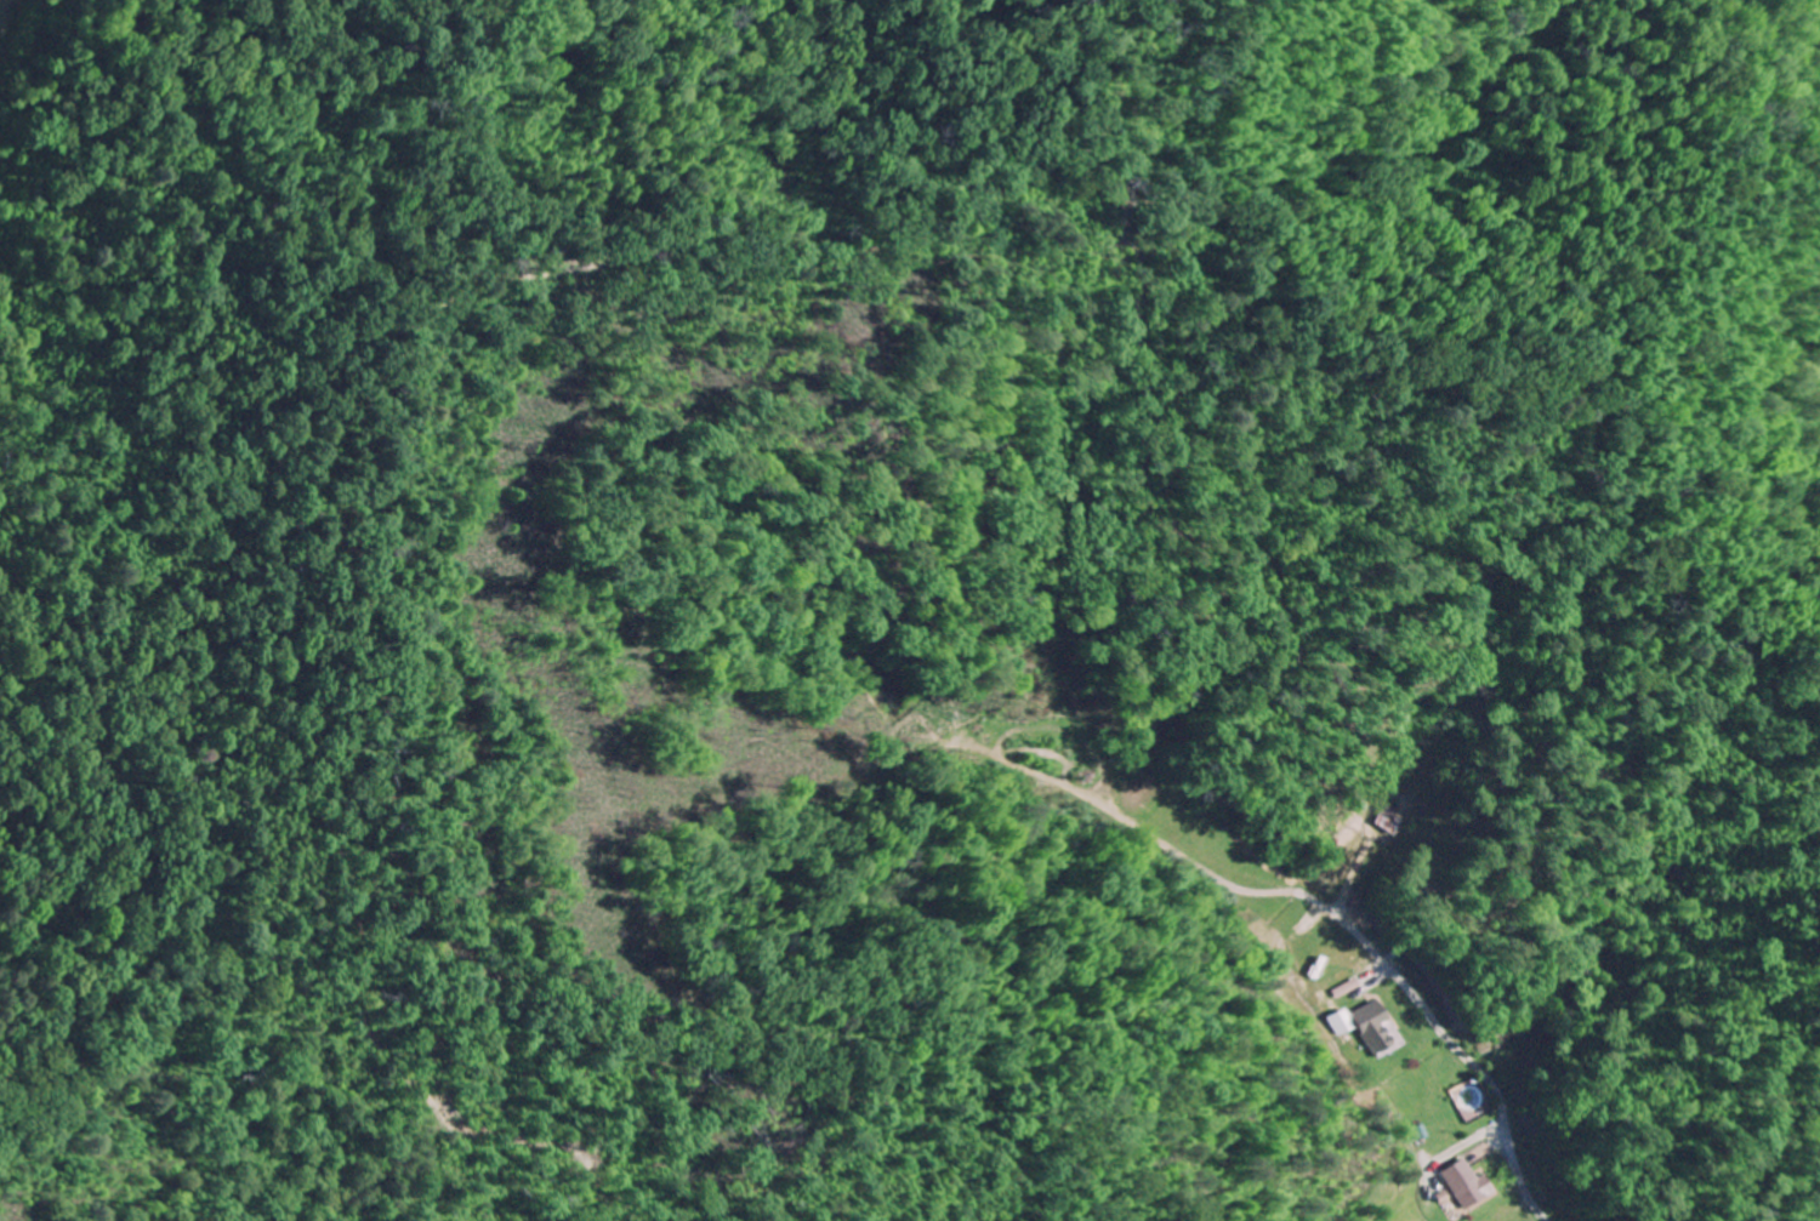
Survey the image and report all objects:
building: (1355, 988)
building: (1378, 1027)
road: (1495, 1080)
building: (1471, 1185)

